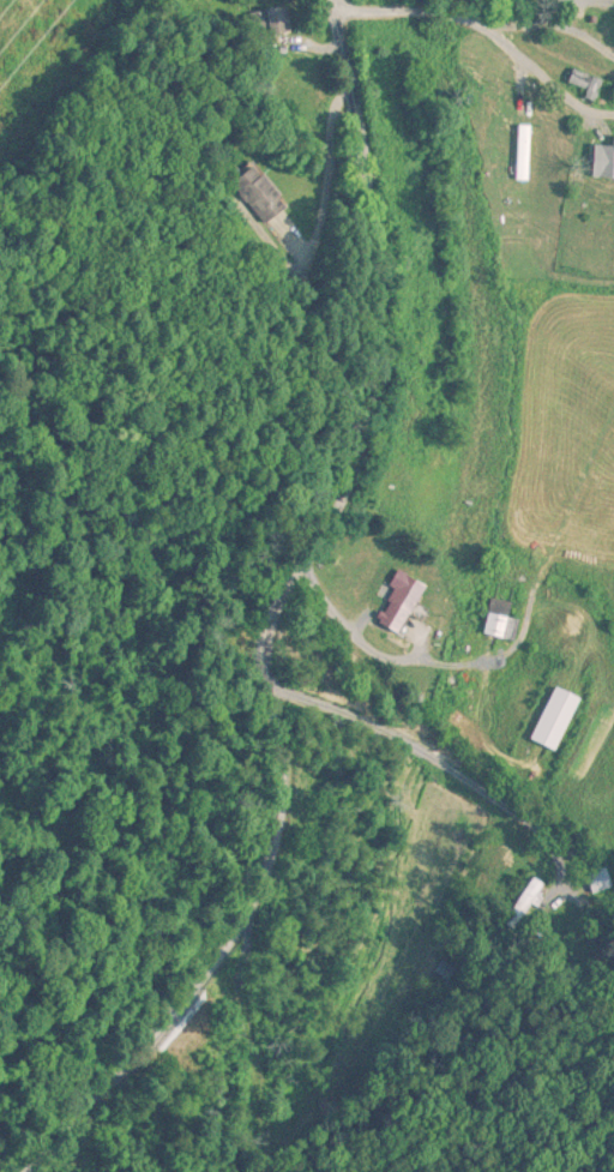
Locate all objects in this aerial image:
road: (577, 1)
road: (475, 18)
building: (279, 20)
road: (530, 67)
building: (588, 84)
building: (524, 152)
building: (603, 161)
road: (326, 179)
building: (261, 194)
building: (402, 601)
road: (271, 612)
building: (501, 621)
road: (349, 623)
building: (556, 720)
road: (429, 755)
building: (522, 903)

